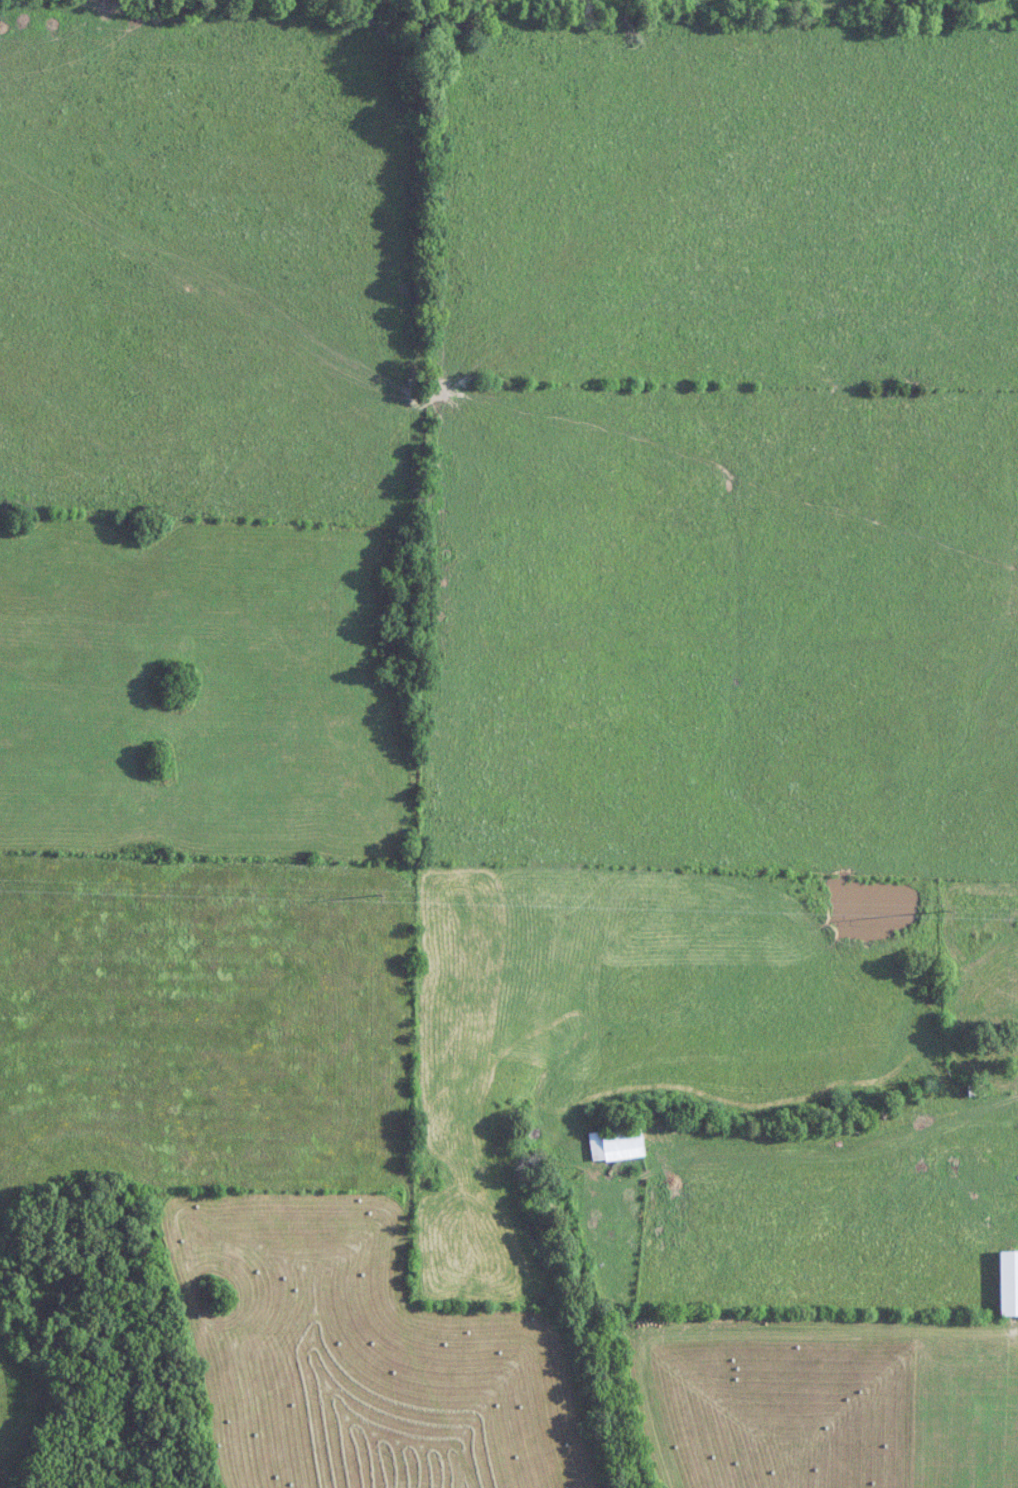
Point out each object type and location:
crop: (195, 1040)
building: (617, 1145)
building: (1014, 1281)

